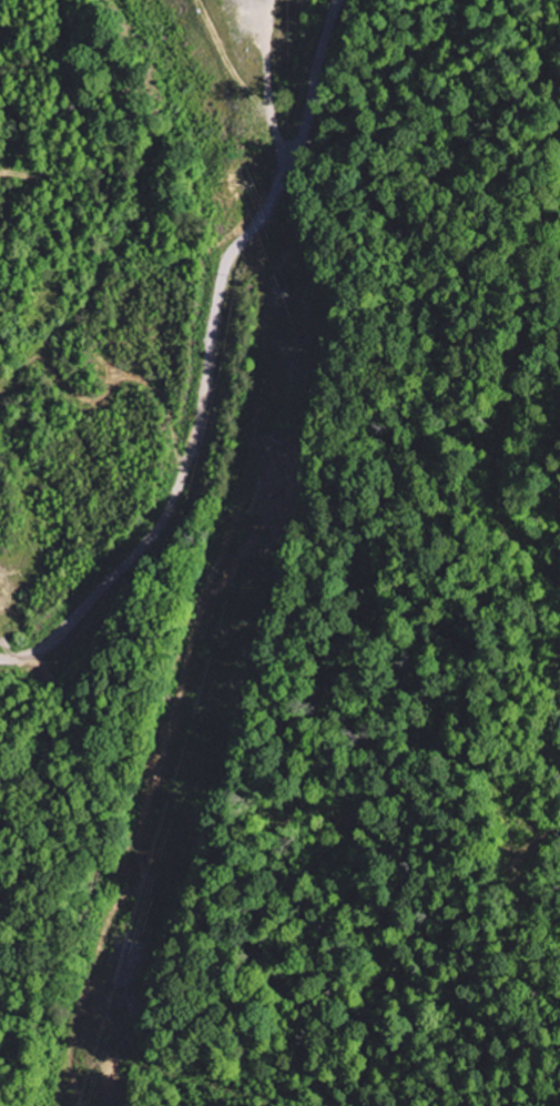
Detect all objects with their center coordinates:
power tower: (247, 185)
road: (208, 359)

